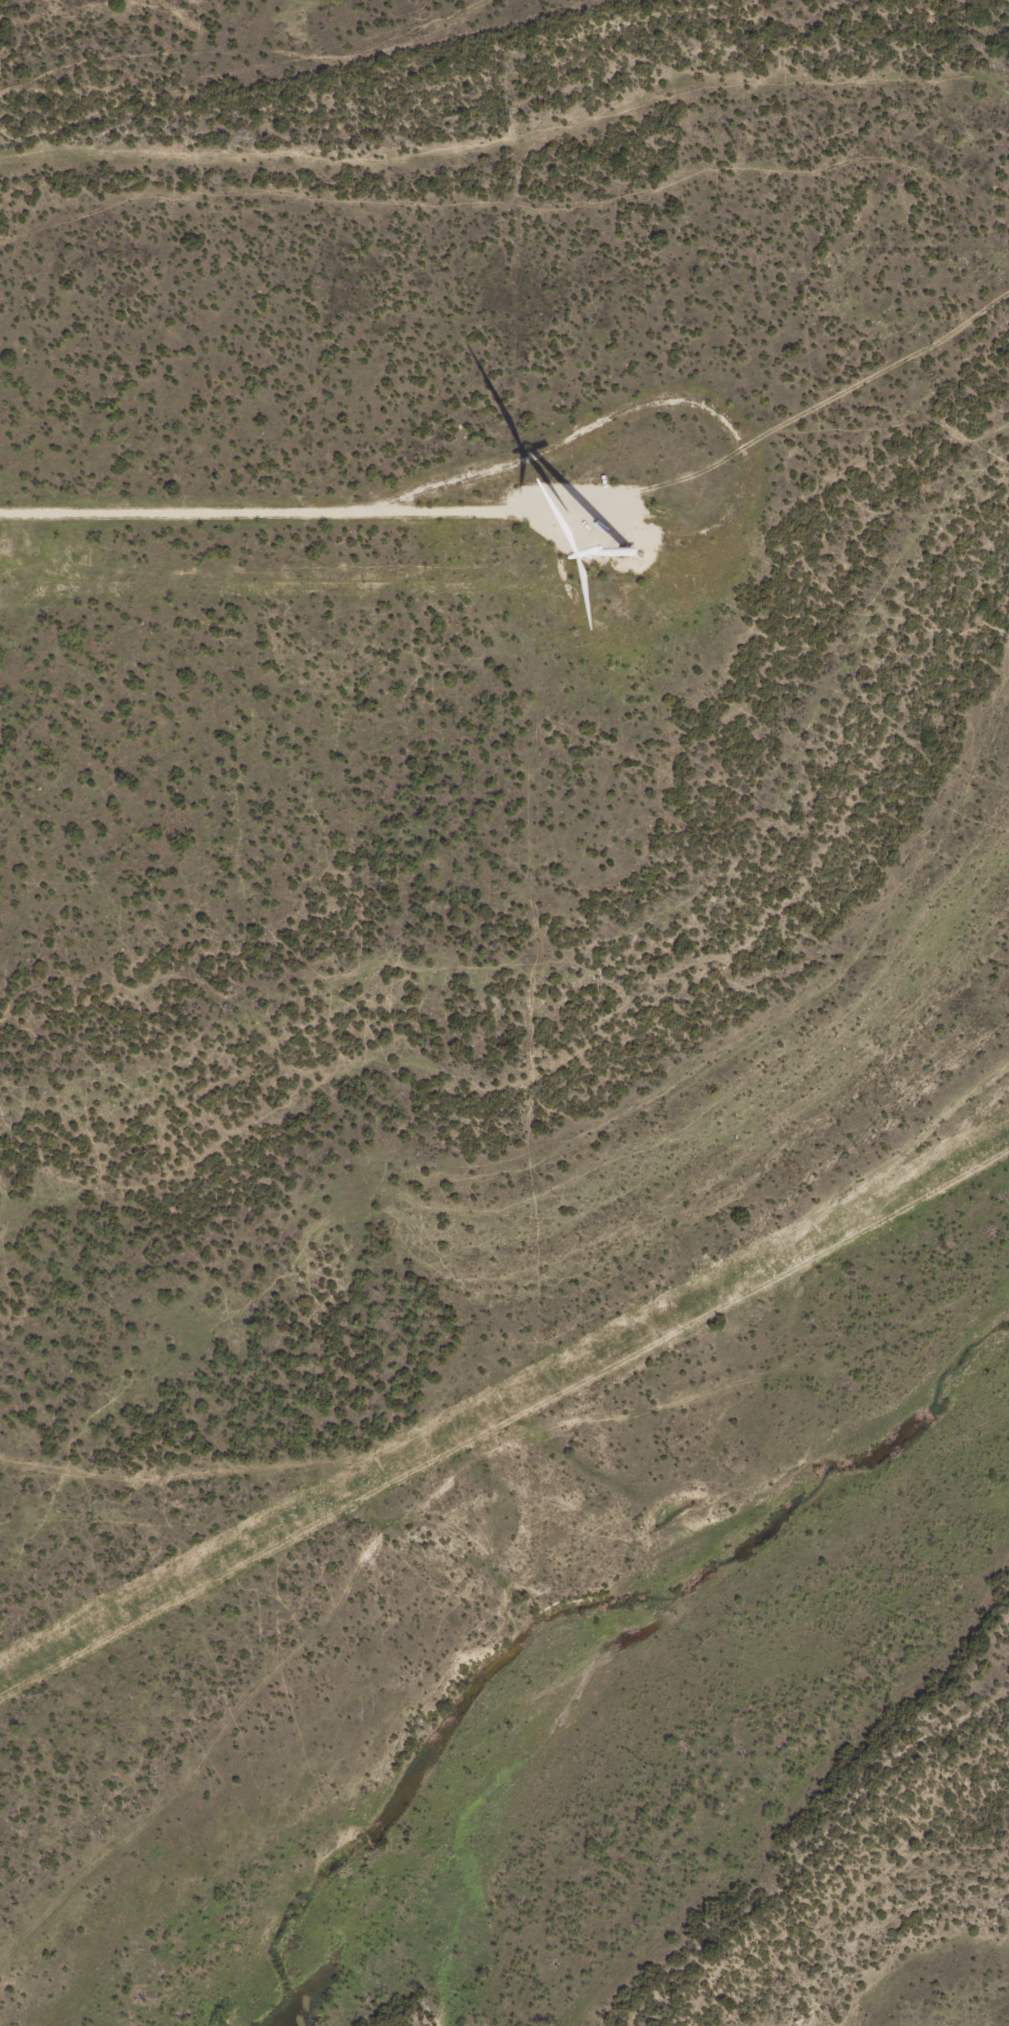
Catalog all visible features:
wind turbine: (641, 545)
road: (744, 1426)

